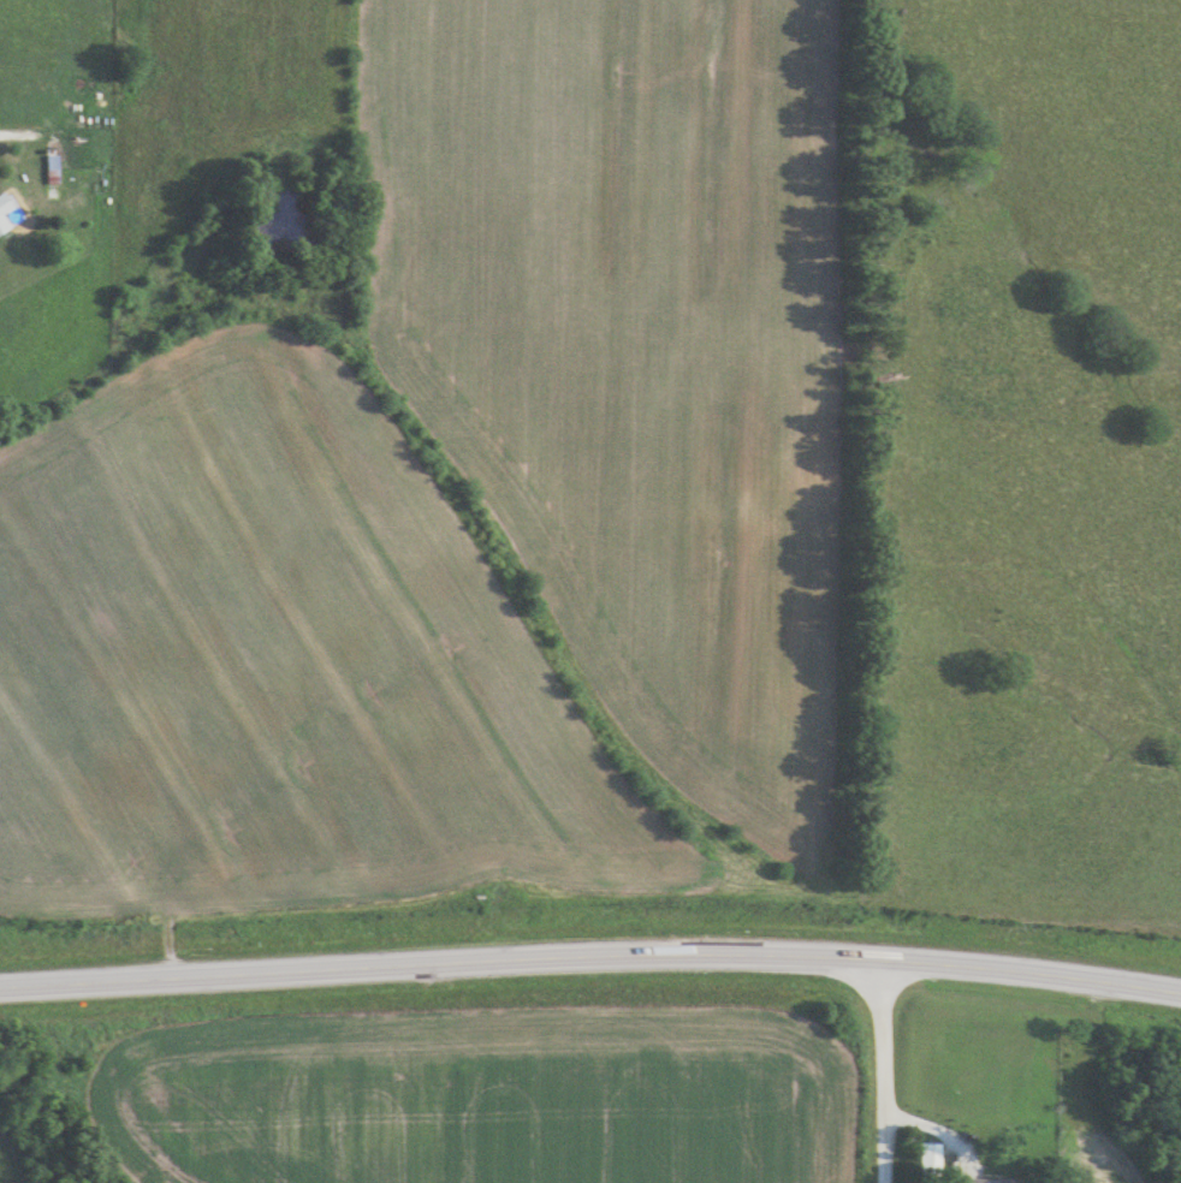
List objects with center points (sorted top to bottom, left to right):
building: (53, 178)
building: (4, 225)
road: (590, 963)
road: (894, 1072)
building: (931, 1158)
building: (986, 1179)

